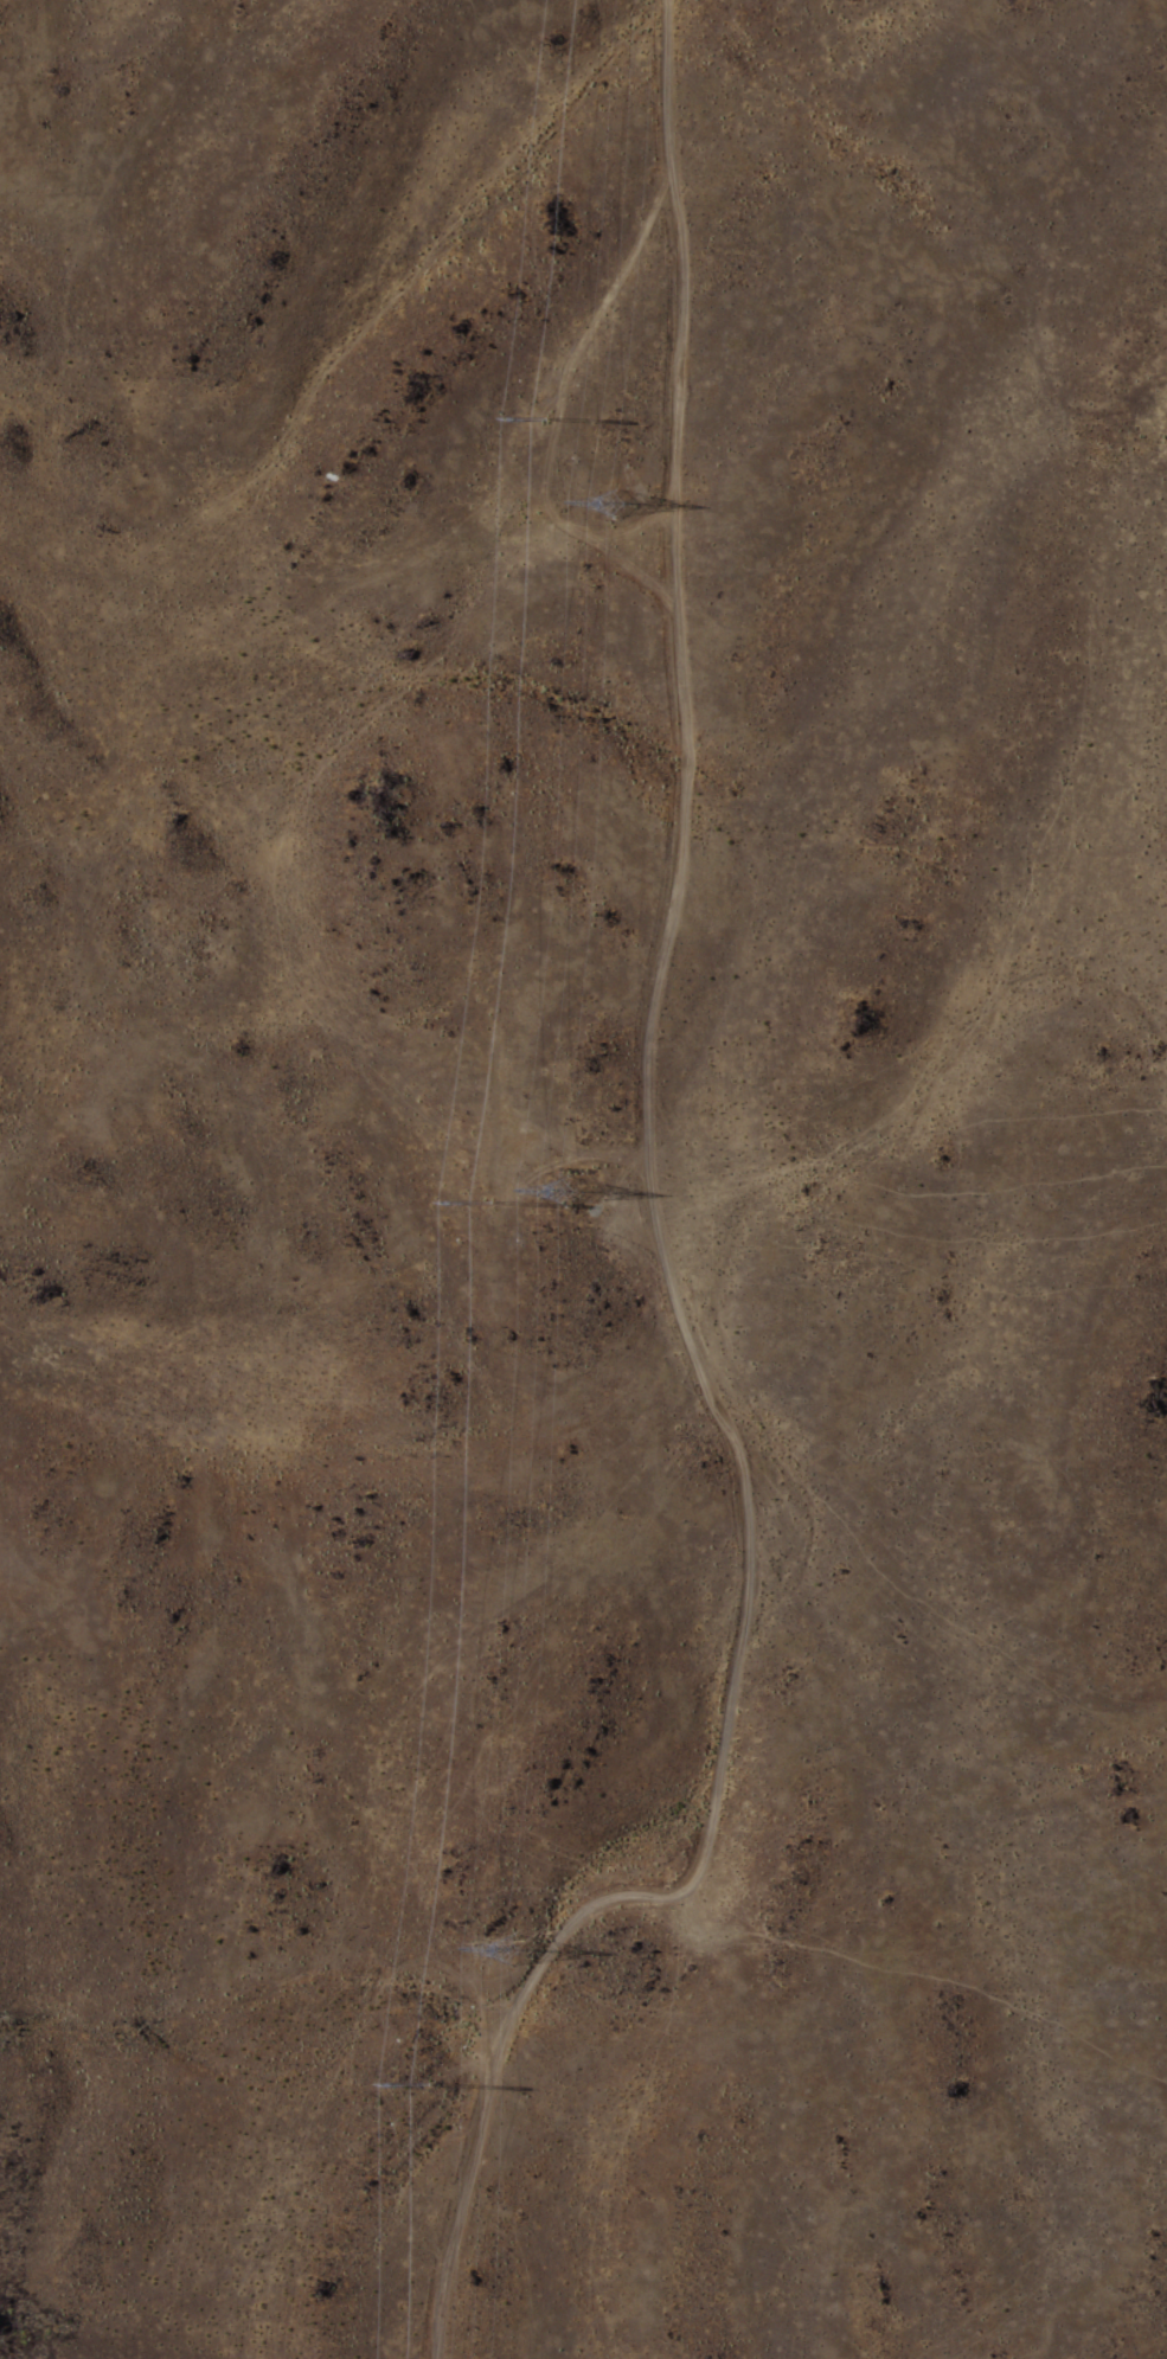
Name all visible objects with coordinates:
power tower: (547, 410)
power tower: (609, 505)
power tower: (575, 1186)
power tower: (490, 1201)
road: (659, 1246)
power tower: (512, 1954)
power tower: (432, 2079)

